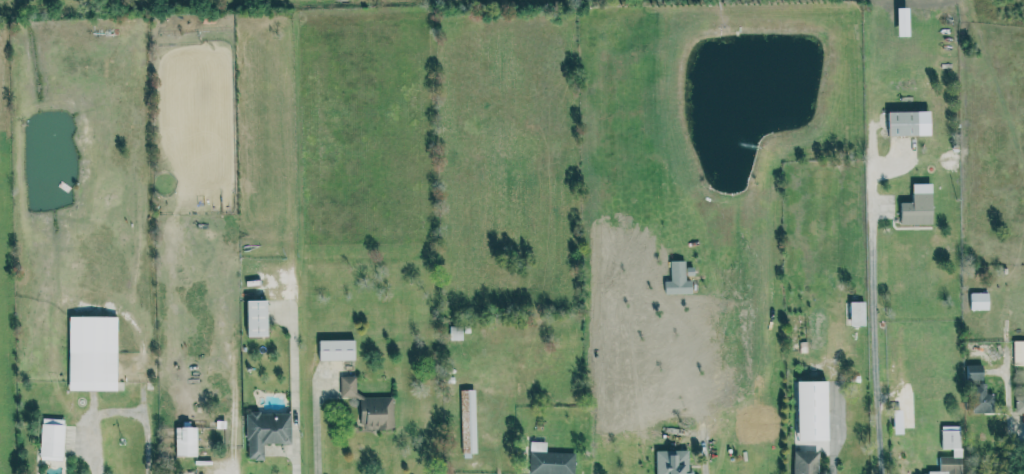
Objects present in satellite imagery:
building: (903, 123)
building: (918, 205)
building: (678, 279)
building: (979, 300)
road: (874, 312)
building: (857, 313)
building: (256, 317)
building: (456, 332)
building: (337, 349)
building: (93, 352)
building: (1018, 352)
building: (974, 371)
road: (295, 394)
building: (982, 399)
building: (1019, 403)
road: (119, 410)
building: (812, 410)
building: (468, 420)
road: (1009, 420)
road: (316, 424)
road: (234, 425)
building: (266, 431)
building: (52, 438)
building: (186, 441)
road: (835, 444)
building: (956, 451)
road: (235, 459)
building: (550, 460)
building: (672, 461)
building: (805, 462)
road: (705, 463)

